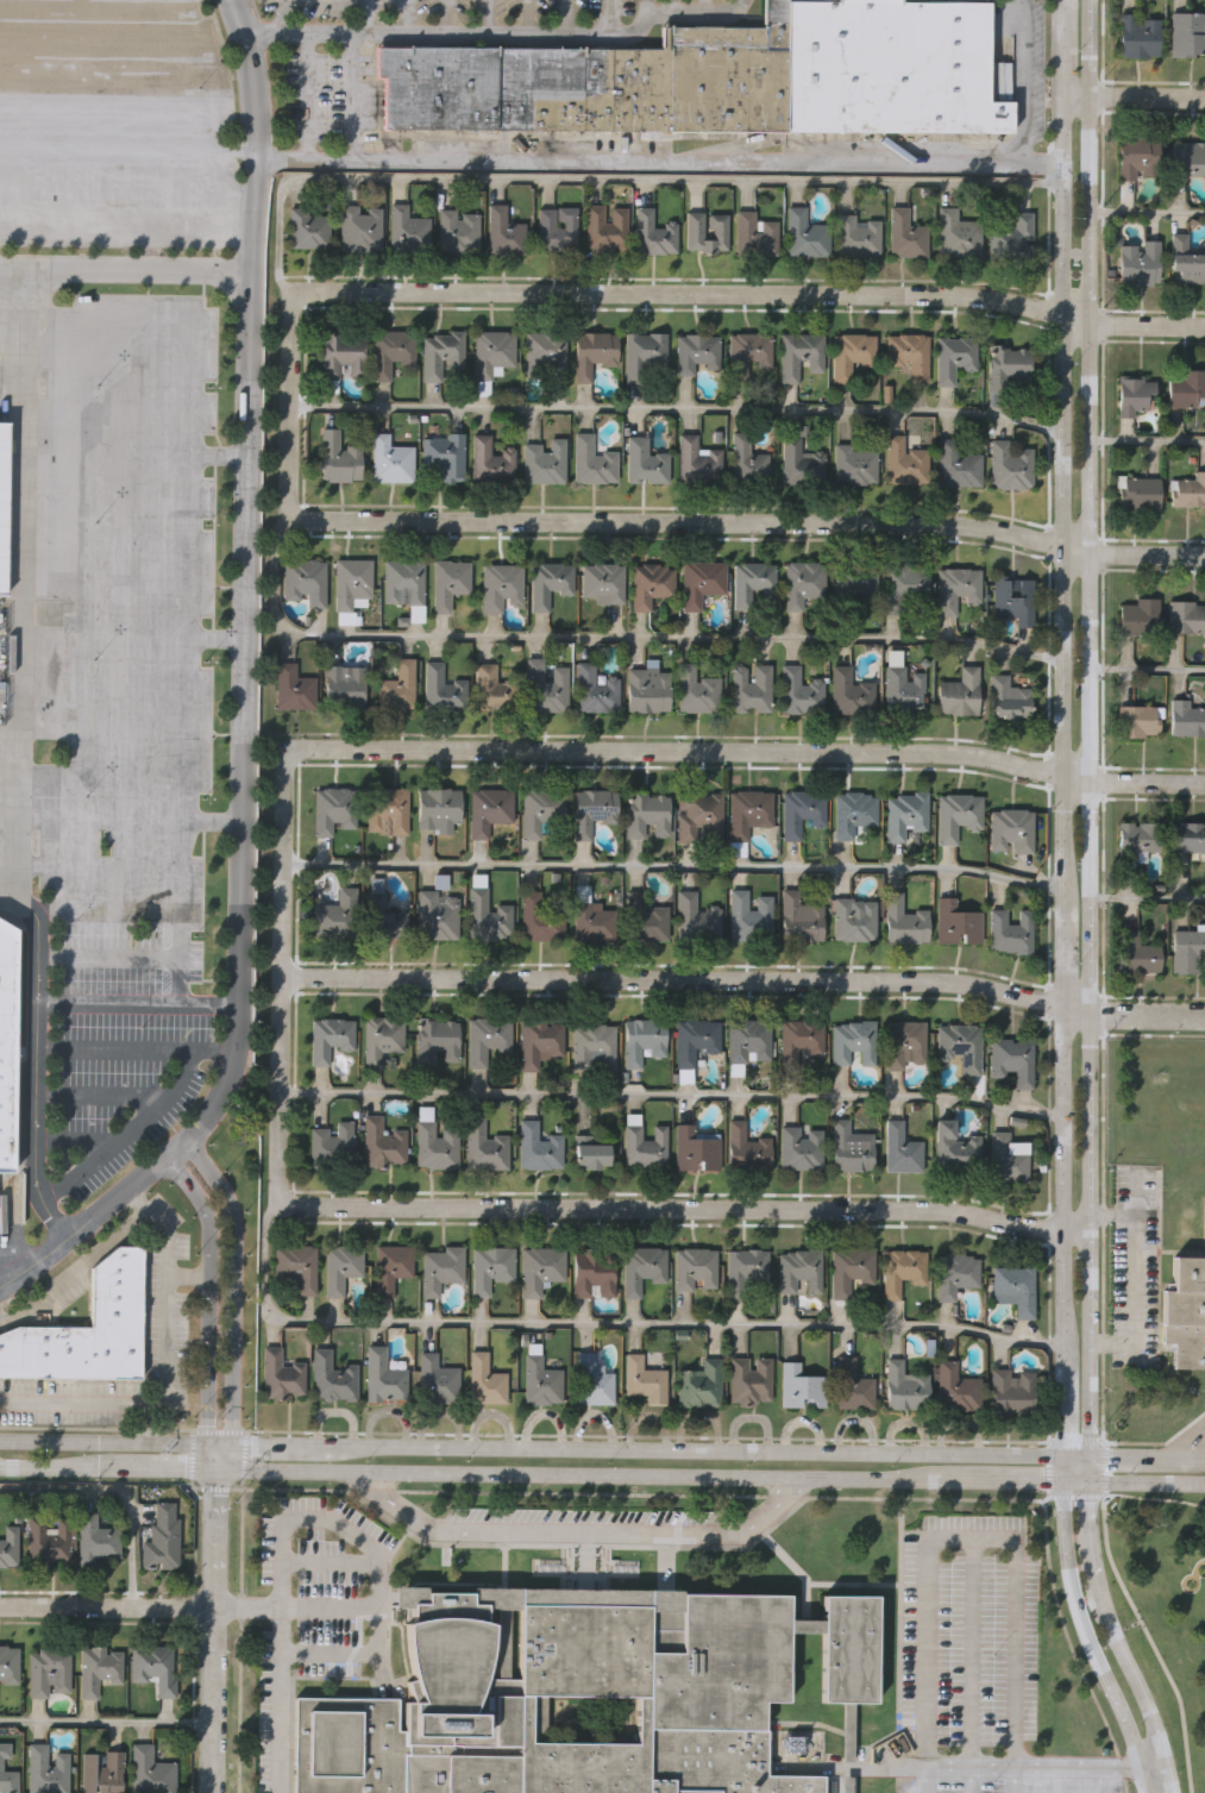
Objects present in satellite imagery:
road: (644, 6)
road: (670, 6)
road: (363, 17)
road: (497, 32)
building: (1186, 35)
building: (1137, 36)
building: (890, 67)
road: (1019, 81)
building: (597, 83)
road: (307, 95)
road: (1132, 96)
parking lot: (118, 113)
building: (1136, 157)
building: (1186, 158)
road: (658, 159)
road: (1146, 211)
building: (360, 227)
building: (557, 227)
building: (607, 228)
building: (309, 230)
building: (408, 231)
building: (459, 231)
building: (707, 232)
building: (504, 233)
building: (653, 234)
building: (755, 234)
building: (905, 234)
building: (958, 234)
building: (807, 236)
building: (858, 237)
building: (1013, 238)
building: (1185, 262)
building: (1137, 264)
road: (124, 268)
road: (696, 294)
road: (1146, 322)
building: (391, 351)
building: (492, 353)
building: (592, 353)
building: (696, 353)
building: (343, 355)
building: (545, 355)
building: (644, 355)
building: (747, 355)
building: (852, 355)
building: (444, 356)
building: (801, 356)
building: (908, 357)
building: (954, 358)
building: (1009, 369)
building: (1186, 389)
road: (291, 394)
building: (1132, 395)
road: (676, 410)
road: (1146, 441)
building: (445, 456)
building: (338, 459)
building: (391, 460)
building: (491, 460)
building: (545, 462)
building: (592, 462)
building: (697, 462)
building: (748, 462)
building: (645, 463)
building: (801, 463)
building: (905, 463)
building: (855, 465)
building: (959, 465)
building: (1010, 465)
building: (1188, 490)
building: (1138, 491)
building: (4, 504)
road: (683, 522)
road: (1146, 553)
building: (306, 582)
building: (855, 582)
building: (403, 583)
building: (602, 583)
building: (701, 583)
building: (752, 583)
building: (803, 583)
building: (448, 584)
building: (550, 584)
building: (651, 584)
building: (353, 585)
building: (501, 587)
building: (905, 587)
building: (958, 589)
building: (1013, 600)
building: (1137, 616)
building: (1186, 617)
road: (243, 635)
road: (607, 640)
road: (1147, 671)
building: (344, 684)
building: (546, 688)
building: (751, 688)
building: (294, 689)
building: (398, 689)
building: (596, 689)
building: (904, 689)
building: (444, 690)
building: (495, 690)
building: (648, 690)
building: (697, 691)
building: (799, 692)
building: (851, 692)
building: (959, 692)
building: (1008, 700)
parking lot: (134, 716)
building: (1185, 719)
building: (1136, 722)
road: (1060, 726)
road: (1088, 727)
road: (754, 752)
road: (21, 764)
building: (490, 809)
building: (541, 809)
building: (334, 810)
building: (388, 810)
building: (439, 810)
building: (592, 810)
building: (801, 811)
building: (853, 811)
building: (748, 813)
building: (904, 814)
building: (648, 815)
building: (956, 815)
building: (699, 817)
building: (1011, 830)
building: (1188, 836)
building: (1135, 839)
road: (672, 869)
road: (1147, 901)
building: (338, 915)
building: (439, 915)
building: (751, 916)
building: (385, 917)
building: (488, 917)
building: (697, 917)
building: (541, 919)
building: (801, 919)
building: (648, 920)
building: (854, 920)
building: (904, 921)
building: (596, 923)
building: (958, 923)
building: (1010, 932)
building: (1187, 951)
building: (1135, 953)
road: (130, 955)
road: (283, 958)
road: (686, 979)
road: (137, 1003)
road: (1146, 1014)
building: (331, 1037)
building: (383, 1037)
building: (488, 1039)
building: (437, 1040)
building: (644, 1040)
building: (695, 1041)
building: (749, 1041)
building: (801, 1041)
building: (541, 1042)
building: (853, 1042)
building: (6, 1045)
building: (906, 1045)
building: (960, 1046)
building: (595, 1047)
building: (1012, 1060)
road: (671, 1097)
building: (383, 1143)
building: (642, 1143)
building: (333, 1145)
building: (437, 1146)
building: (485, 1146)
building: (539, 1147)
building: (851, 1147)
building: (696, 1148)
building: (747, 1148)
building: (802, 1148)
building: (902, 1148)
building: (954, 1148)
building: (590, 1152)
building: (1006, 1160)
road: (673, 1208)
road: (48, 1253)
building: (297, 1266)
building: (341, 1266)
building: (393, 1267)
building: (491, 1267)
building: (644, 1267)
building: (441, 1268)
building: (542, 1268)
building: (695, 1268)
road: (75, 1269)
building: (799, 1269)
building: (851, 1269)
building: (902, 1269)
building: (746, 1271)
building: (594, 1272)
building: (955, 1273)
road: (189, 1278)
road: (1134, 1278)
building: (1015, 1287)
road: (234, 1290)
road: (209, 1298)
building: (1186, 1312)
road: (603, 1322)
building: (86, 1330)
road: (168, 1371)
building: (282, 1374)
building: (384, 1375)
building: (333, 1377)
building: (645, 1379)
building: (751, 1379)
building: (438, 1380)
building: (485, 1380)
building: (592, 1380)
building: (542, 1381)
building: (701, 1385)
building: (853, 1385)
building: (802, 1386)
building: (904, 1386)
building: (956, 1387)
building: (1011, 1392)
road: (1193, 1437)
road: (109, 1440)
road: (1049, 1440)
traffic signals: (219, 1443)
road: (640, 1447)
road: (218, 1454)
road: (1073, 1454)
road: (1144, 1454)
road: (108, 1463)
road: (1061, 1463)
road: (1085, 1463)
traffic signals: (218, 1466)
road: (639, 1469)
road: (1073, 1473)
road: (1144, 1475)
road: (118, 1490)
road: (974, 1524)
road: (575, 1530)
building: (161, 1535)
building: (94, 1537)
building: (46, 1538)
road: (360, 1542)
building: (7, 1543)
road: (328, 1550)
road: (1132, 1595)
road: (107, 1605)
park: (1165, 1607)
road: (213, 1629)
road: (1084, 1636)
road: (1112, 1637)
road: (973, 1644)
road: (344, 1650)
building: (8, 1662)
building: (153, 1666)
road: (278, 1666)
building: (457, 1666)
building: (96, 1667)
building: (48, 1668)
building: (653, 1685)
road: (106, 1723)
road: (1148, 1762)
road: (1013, 1764)
building: (45, 1769)
building: (149, 1770)
building: (6, 1772)
building: (100, 1772)
road: (925, 1779)
road: (971, 1779)
road: (1013, 1779)
road: (1057, 1779)
road: (1100, 1779)
building: (847, 1785)

